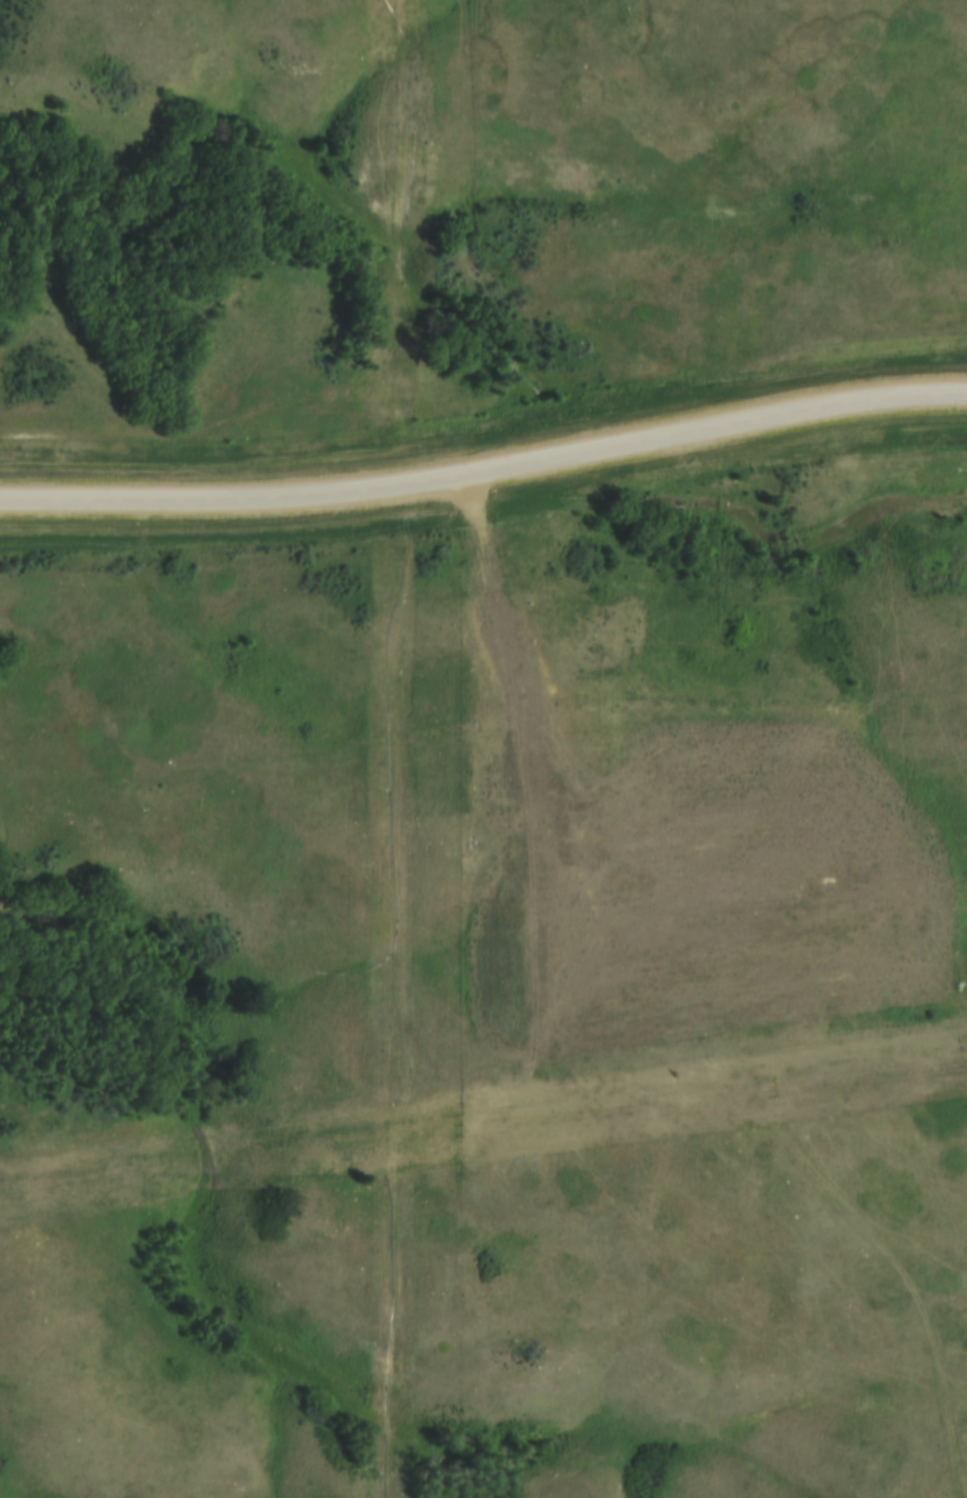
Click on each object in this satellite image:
road: (485, 470)

